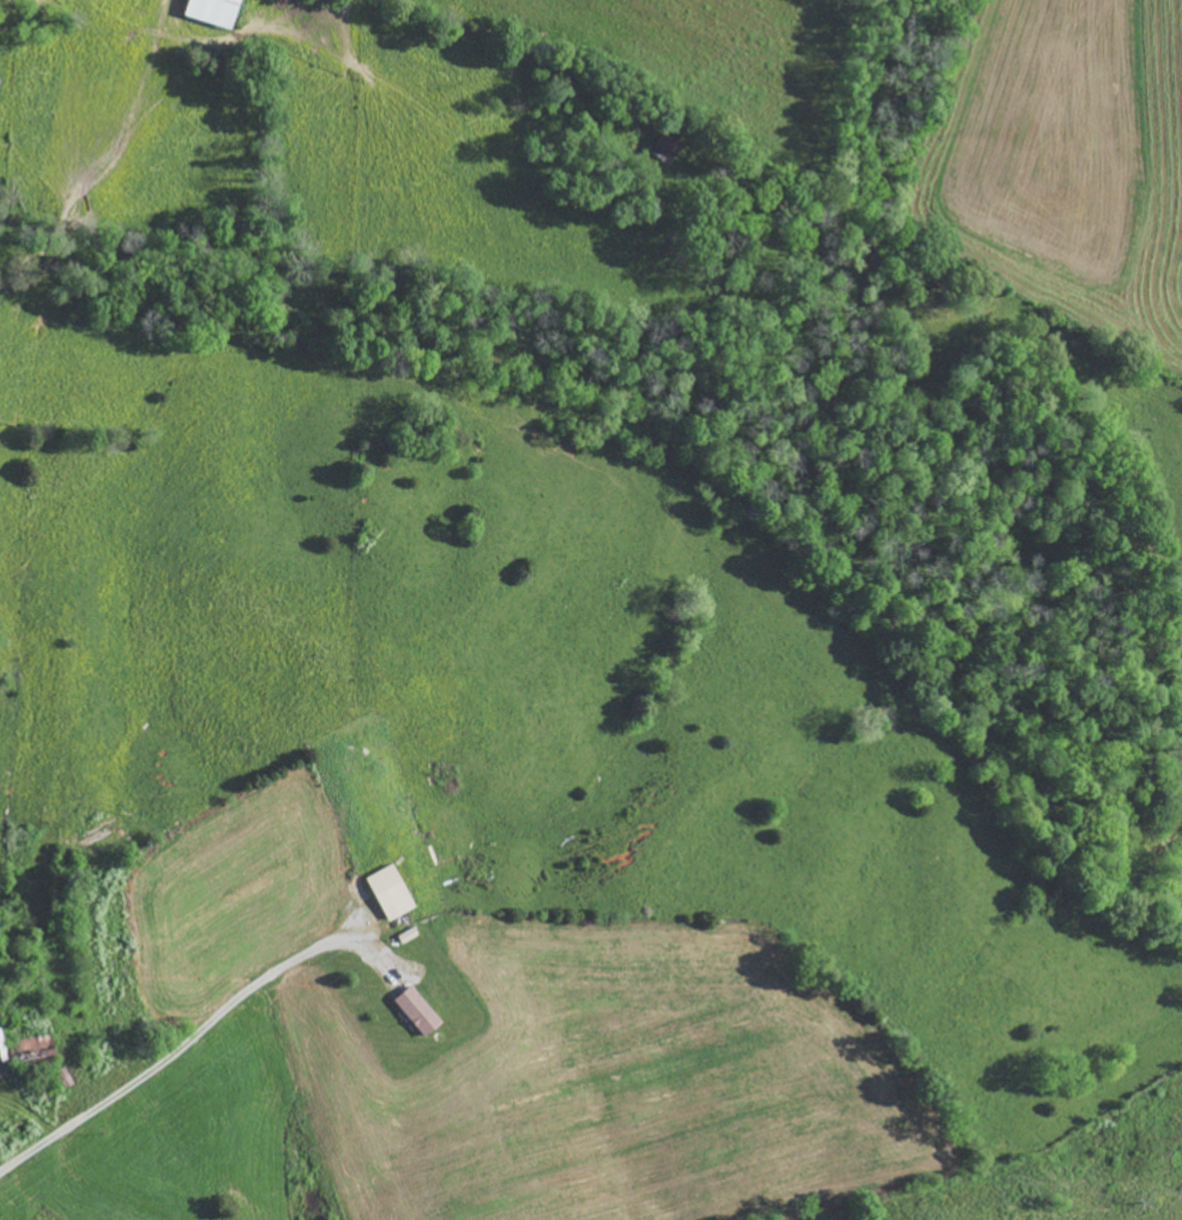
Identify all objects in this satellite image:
building: (218, 11)
building: (670, 146)
building: (392, 893)
building: (421, 1011)

